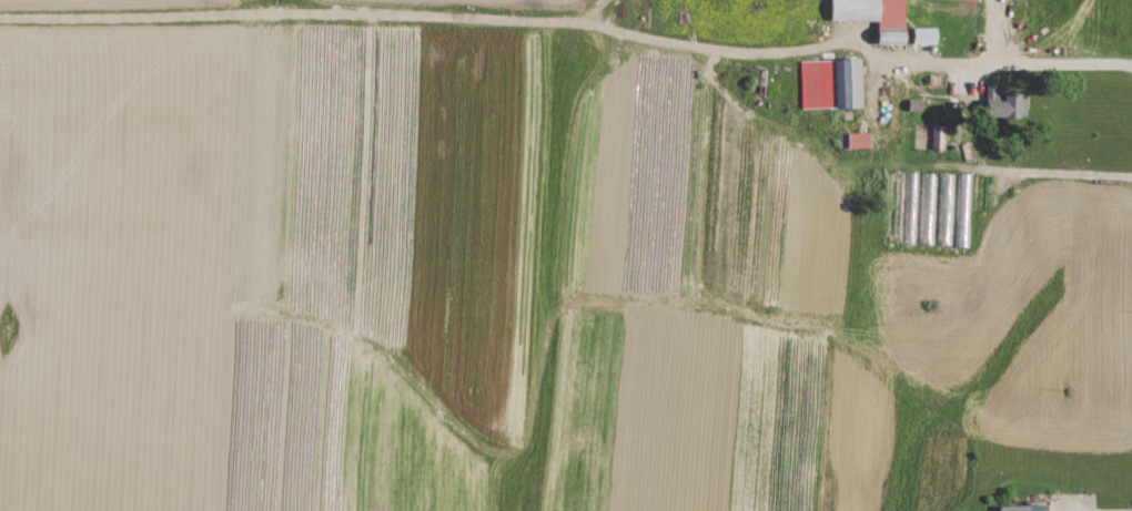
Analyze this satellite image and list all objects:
building: (863, 10)
building: (920, 34)
road: (952, 62)
building: (827, 82)
building: (999, 105)
building: (937, 136)
building: (857, 140)
building: (1019, 508)

